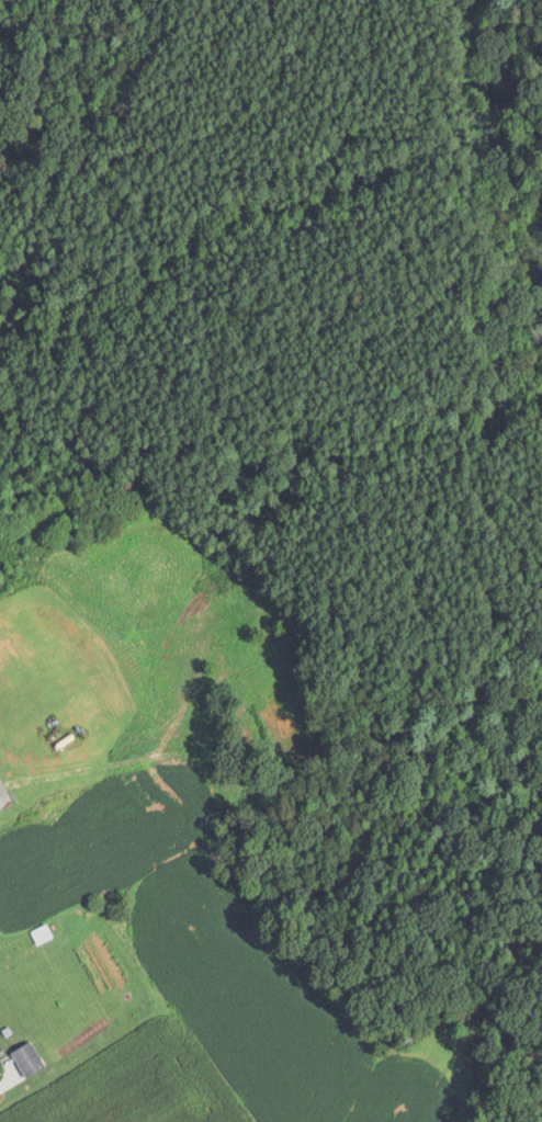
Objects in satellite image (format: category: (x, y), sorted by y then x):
building: (45, 934)
building: (35, 1061)

